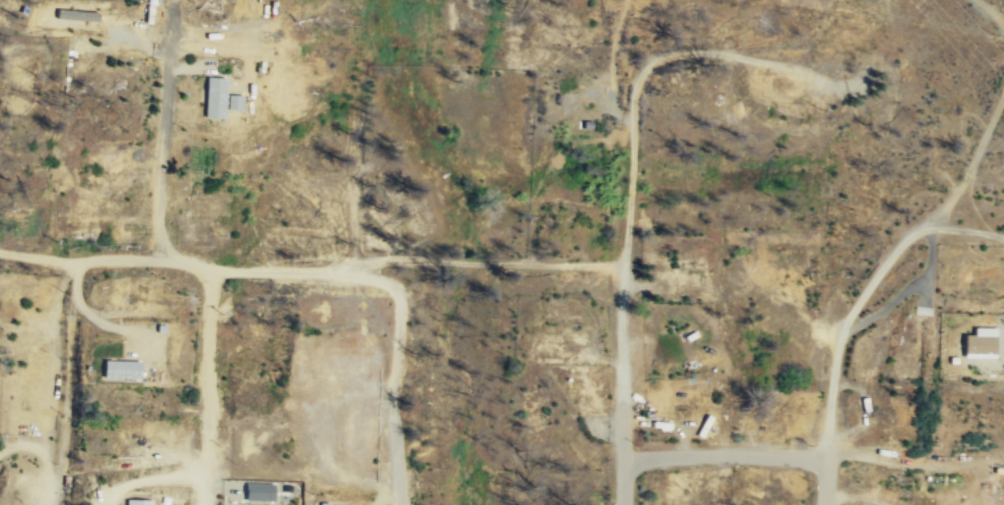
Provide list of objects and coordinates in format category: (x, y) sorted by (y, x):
road: (990, 12)
road: (171, 14)
road: (612, 47)
road: (616, 112)
road: (162, 146)
road: (968, 168)
road: (631, 209)
road: (960, 229)
road: (312, 271)
road: (925, 272)
road: (885, 308)
road: (841, 331)
building: (117, 369)
road: (408, 384)
road: (214, 388)
road: (723, 459)
road: (903, 467)
road: (825, 480)
building: (257, 492)

